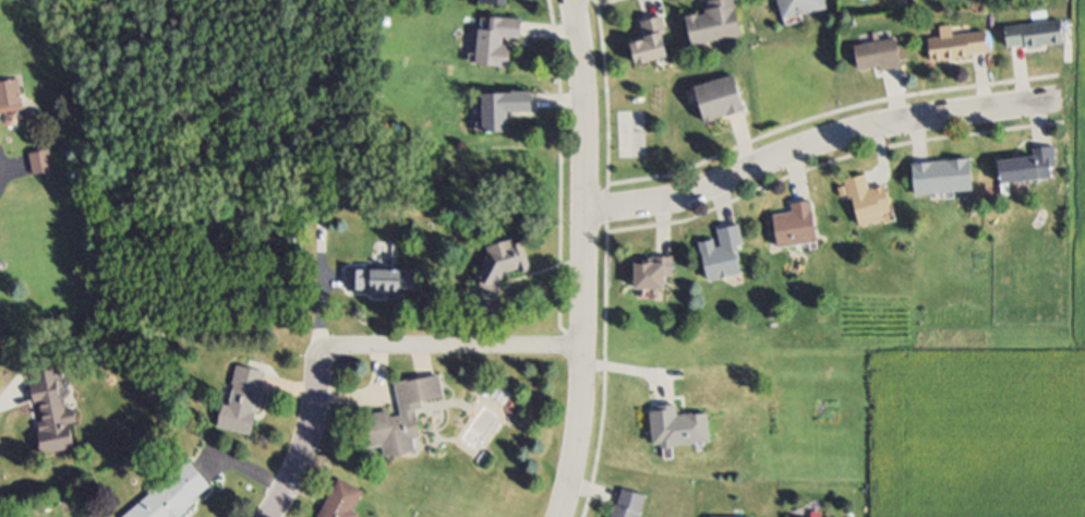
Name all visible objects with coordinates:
building: (499, 4)
building: (806, 10)
building: (721, 27)
building: (1040, 38)
building: (503, 45)
building: (658, 48)
building: (963, 49)
building: (885, 60)
building: (13, 101)
building: (726, 104)
building: (510, 113)
road: (818, 141)
building: (47, 167)
building: (1034, 171)
building: (949, 182)
building: (875, 206)
building: (803, 231)
road: (582, 258)
building: (731, 261)
building: (507, 269)
building: (662, 278)
building: (387, 287)
road: (455, 346)
building: (249, 405)
building: (60, 421)
building: (410, 422)
building: (686, 433)
road: (305, 434)
building: (182, 497)
building: (349, 503)
building: (635, 506)

